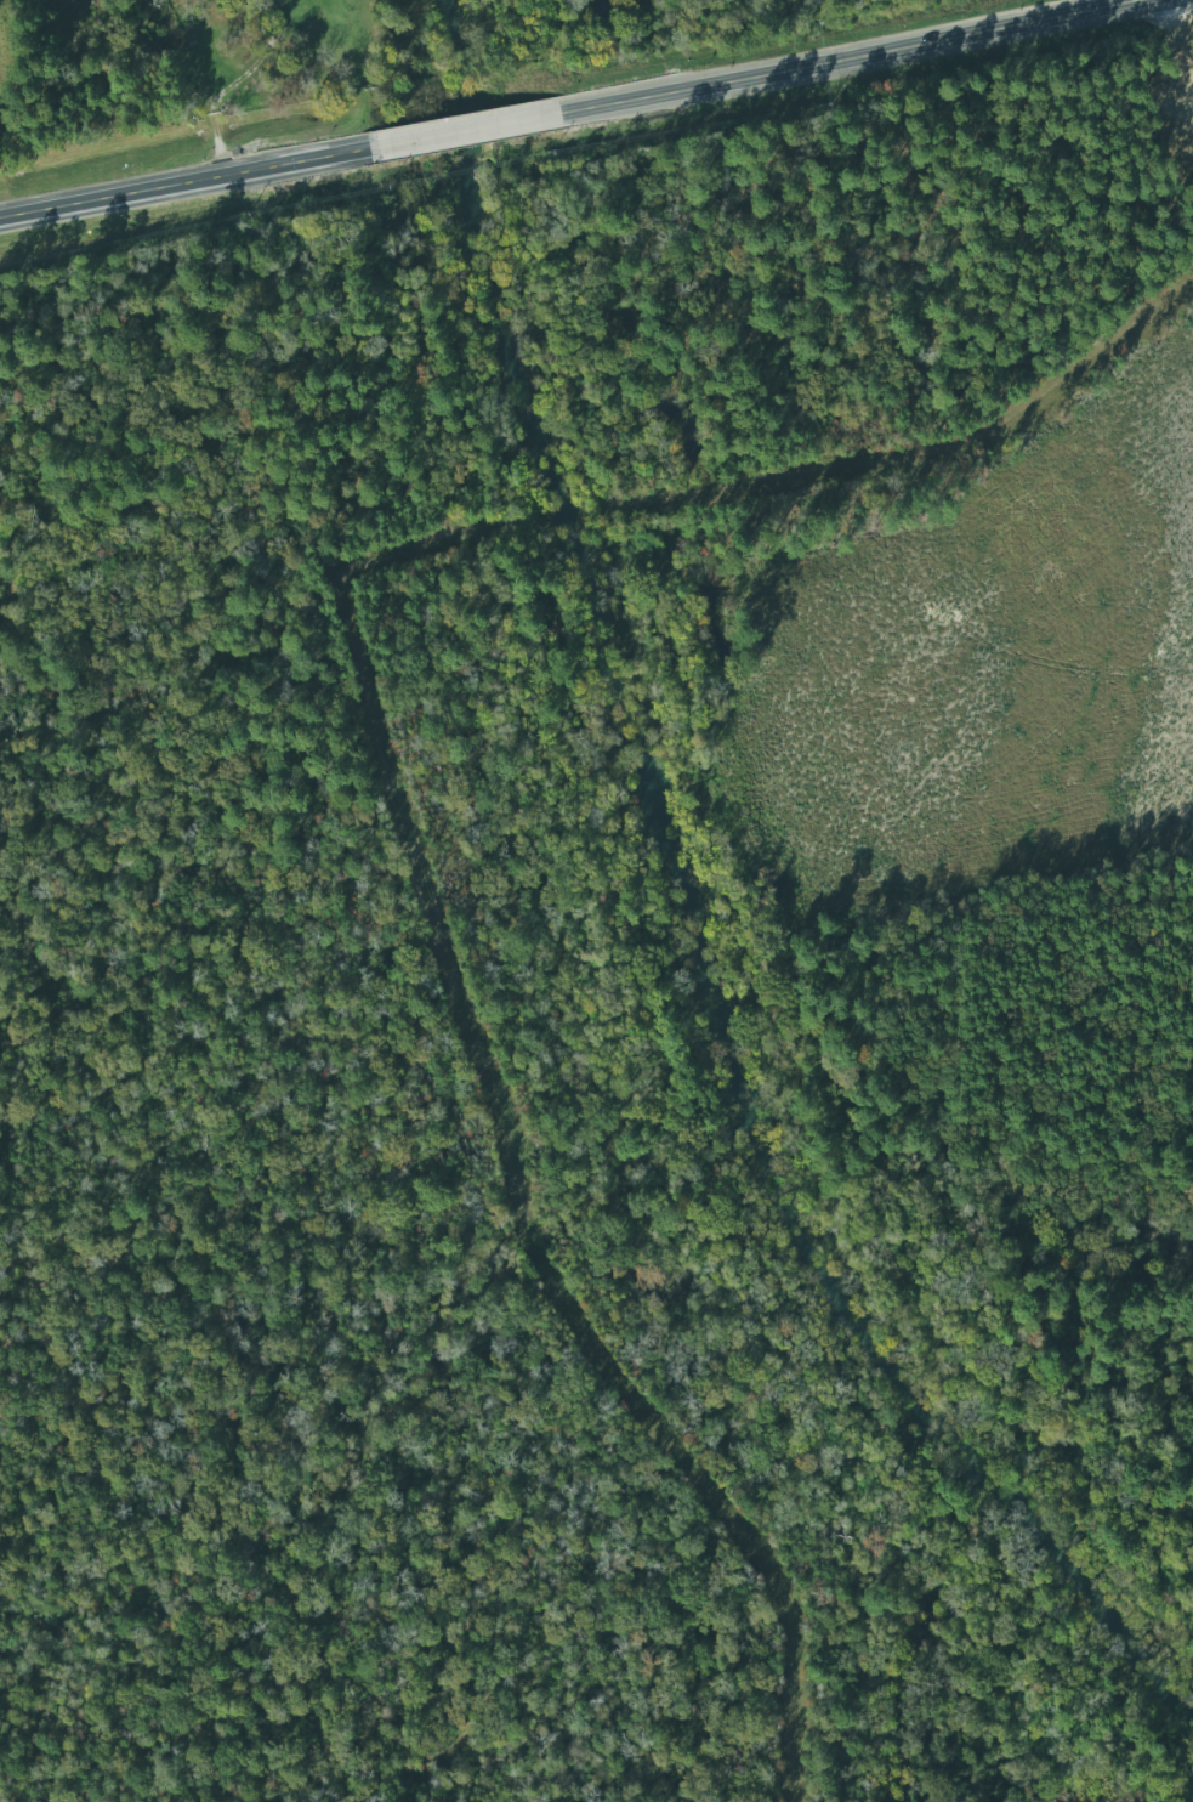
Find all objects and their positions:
road: (800, 66)
road: (216, 113)
road: (237, 177)

